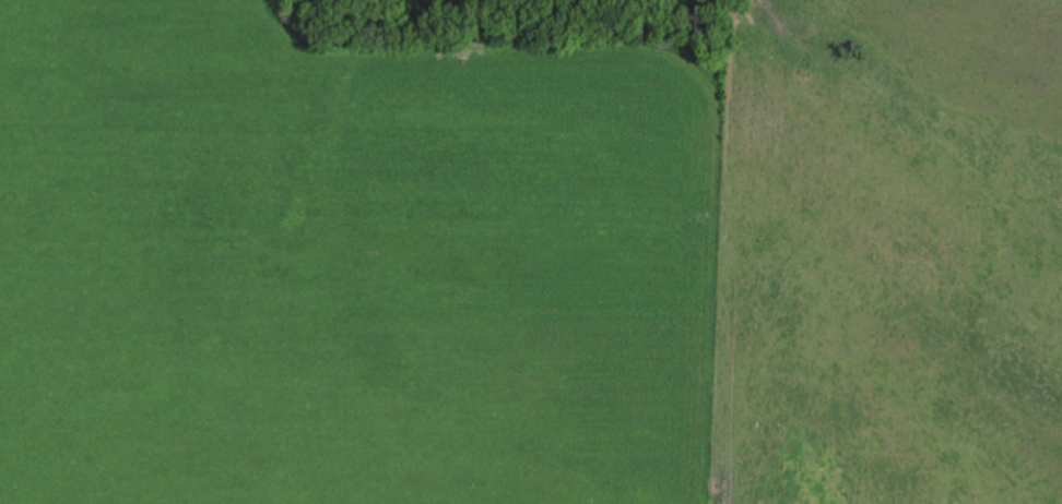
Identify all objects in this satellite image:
building: (697, 19)

